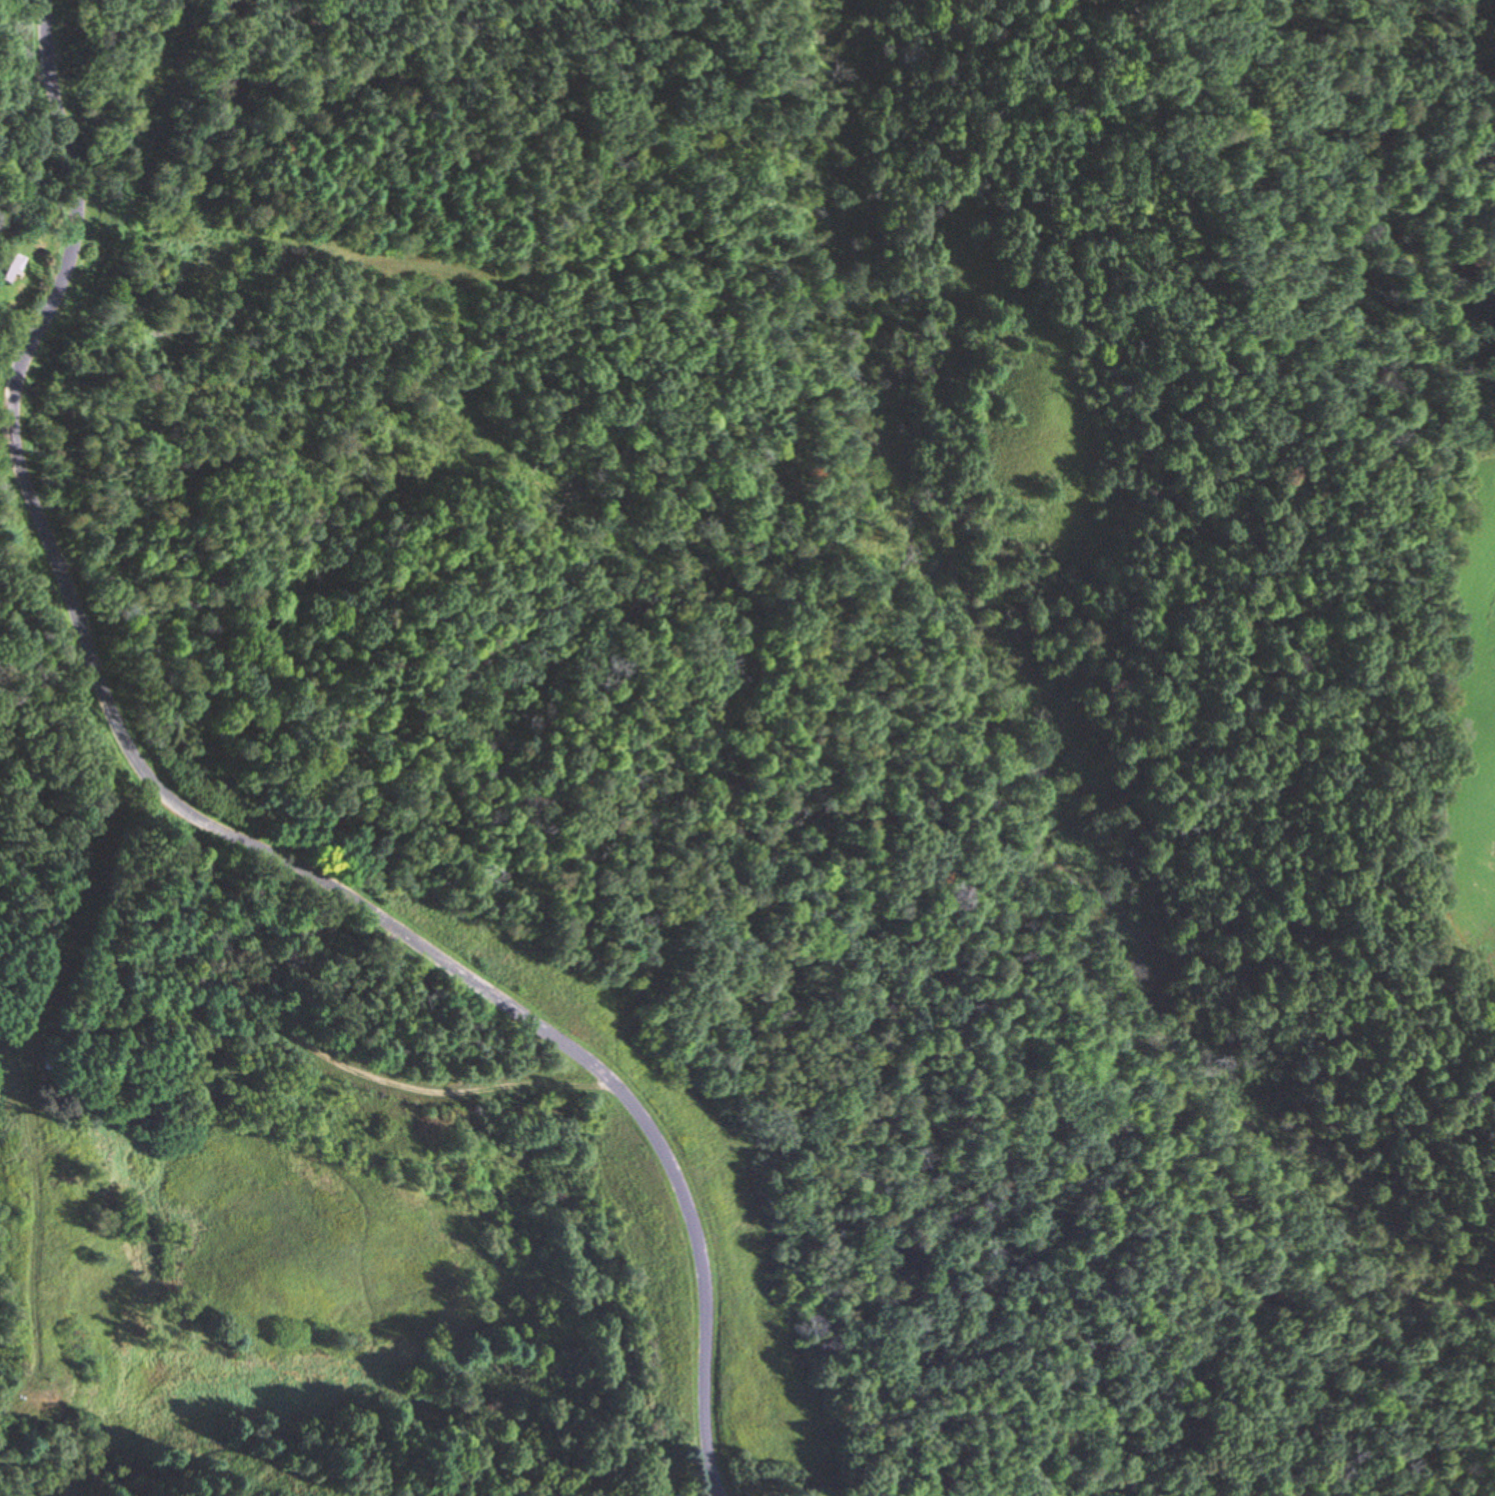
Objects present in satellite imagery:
road: (45, 229)
building: (4, 266)
road: (419, 953)
road: (301, 1052)
building: (43, 1132)

